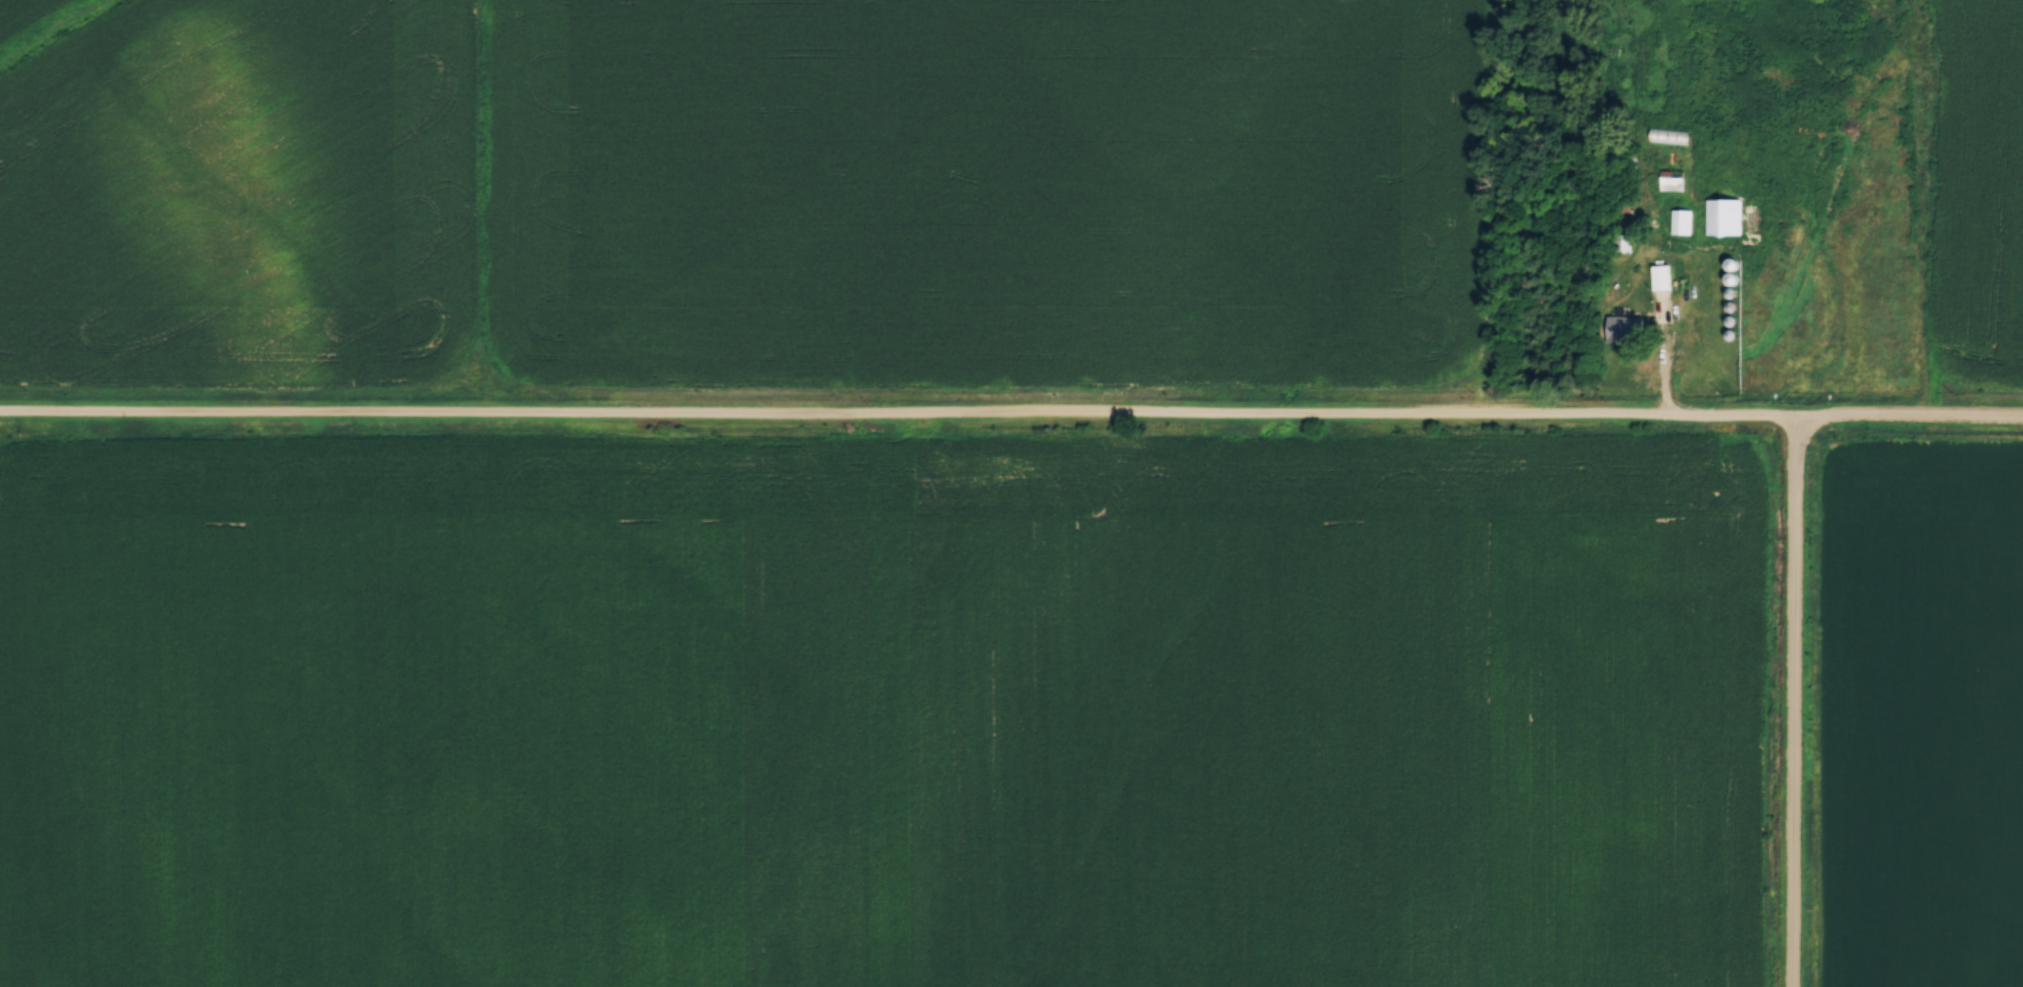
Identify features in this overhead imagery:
building: (1670, 131)
building: (1673, 179)
building: (1724, 213)
building: (1682, 218)
building: (1661, 273)
building: (1623, 323)
road: (1011, 418)
road: (1795, 702)

